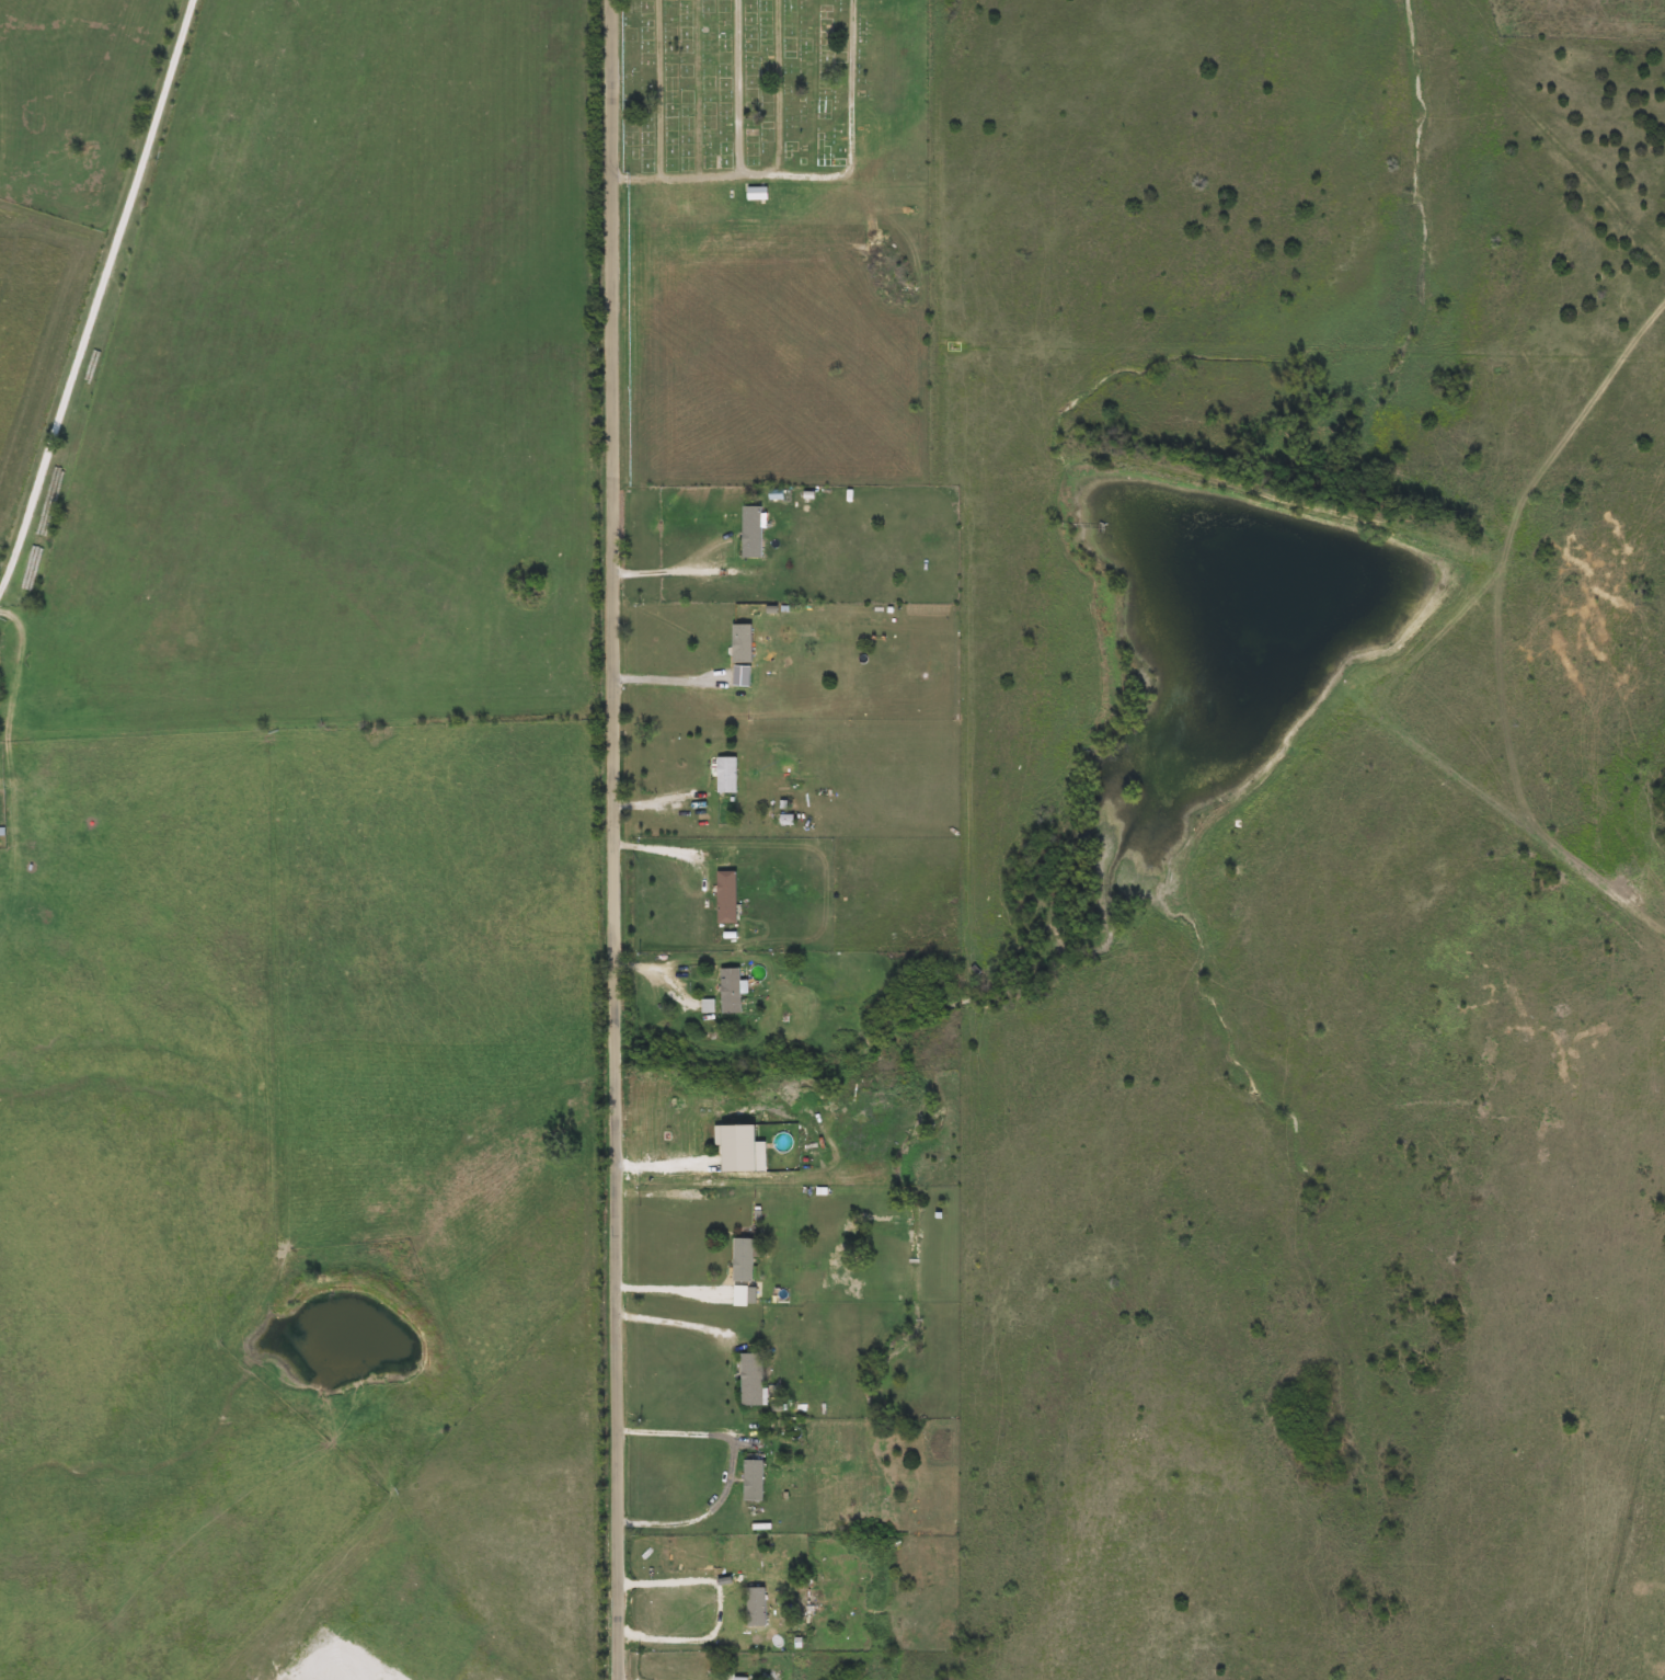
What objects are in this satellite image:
park: (773, 93)
building: (753, 194)
road: (95, 293)
building: (747, 534)
road: (668, 575)
building: (737, 645)
road: (665, 681)
building: (723, 776)
road: (613, 839)
road: (658, 853)
building: (722, 899)
building: (726, 991)
building: (740, 1158)
building: (740, 1259)
road: (668, 1288)
road: (669, 1324)
building: (747, 1380)
building: (360, 1419)
road: (728, 1467)
building: (748, 1481)
road: (716, 1607)
building: (750, 1607)

